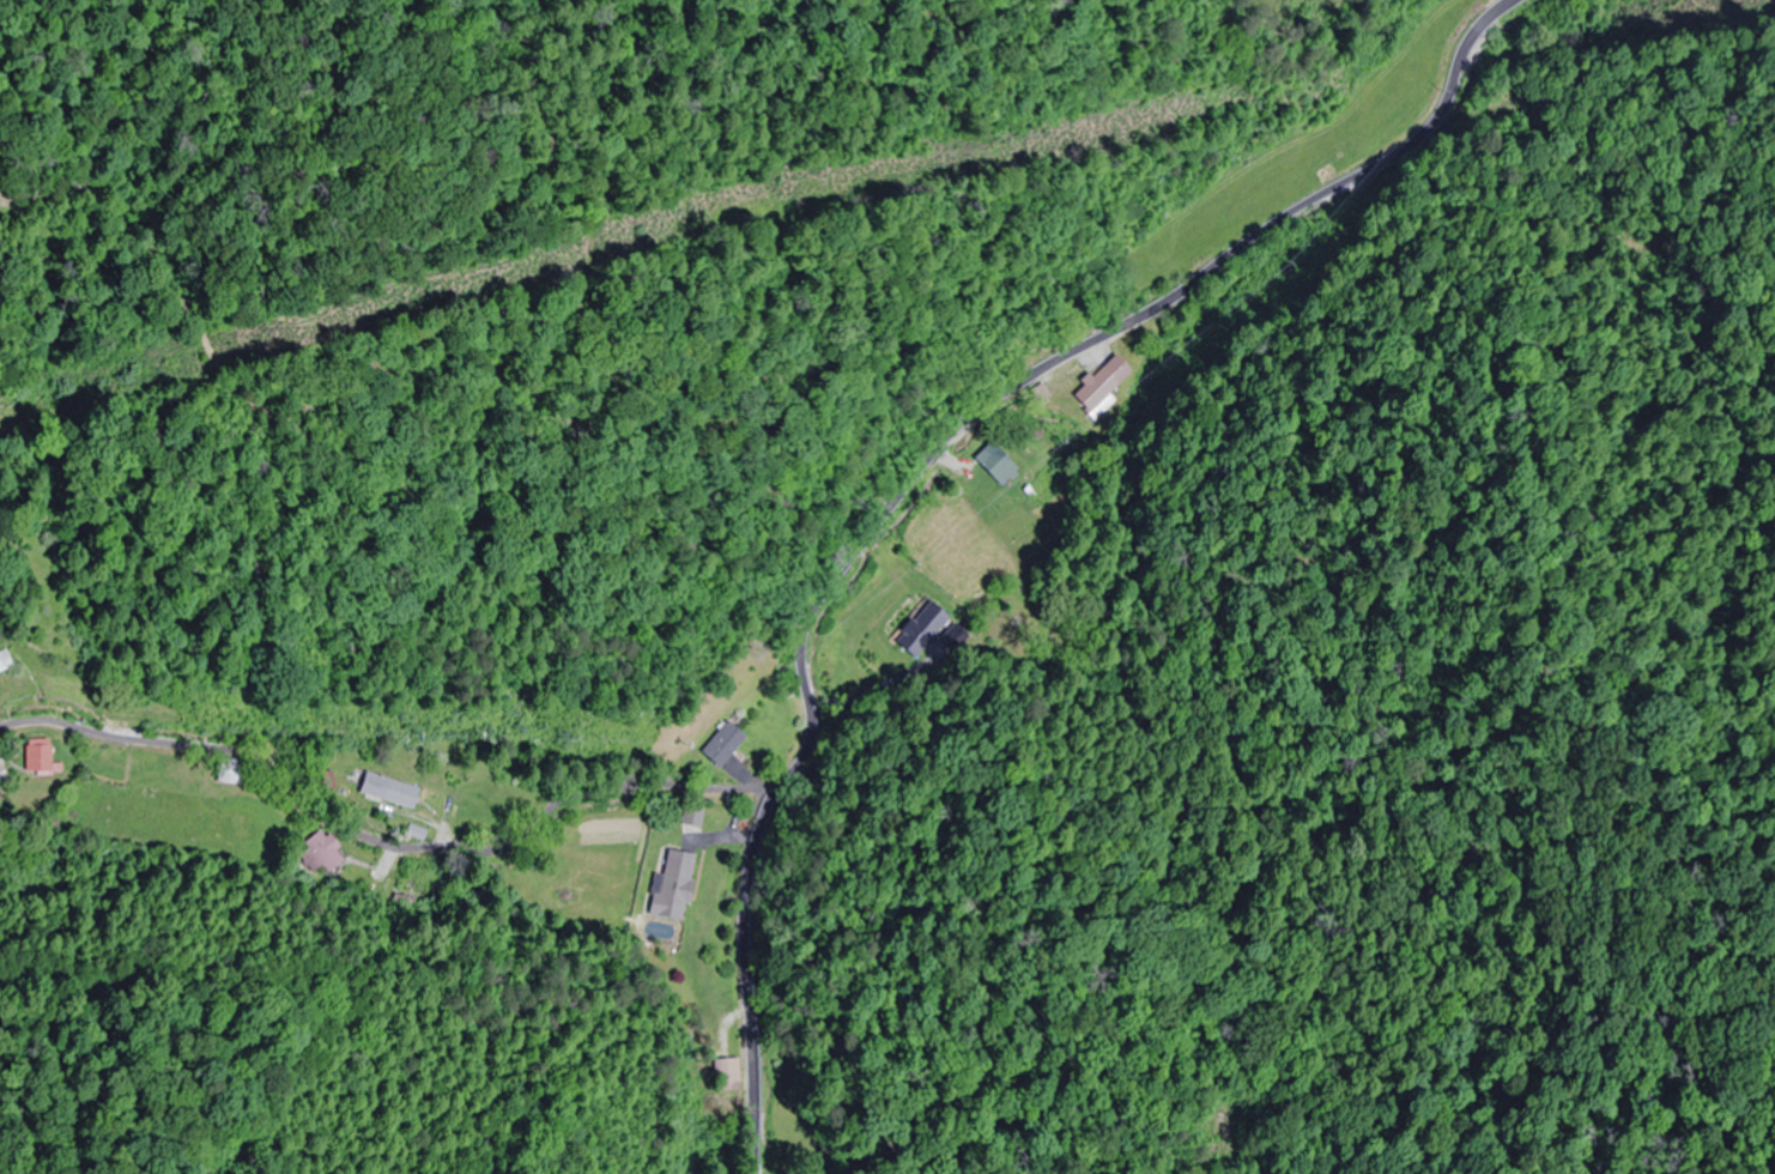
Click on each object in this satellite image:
road: (922, 464)
building: (996, 465)
building: (923, 629)
building: (2, 661)
building: (721, 744)
building: (41, 758)
building: (228, 773)
building: (386, 792)
building: (692, 817)
road: (380, 843)
building: (326, 851)
building: (672, 889)
building: (729, 1076)

